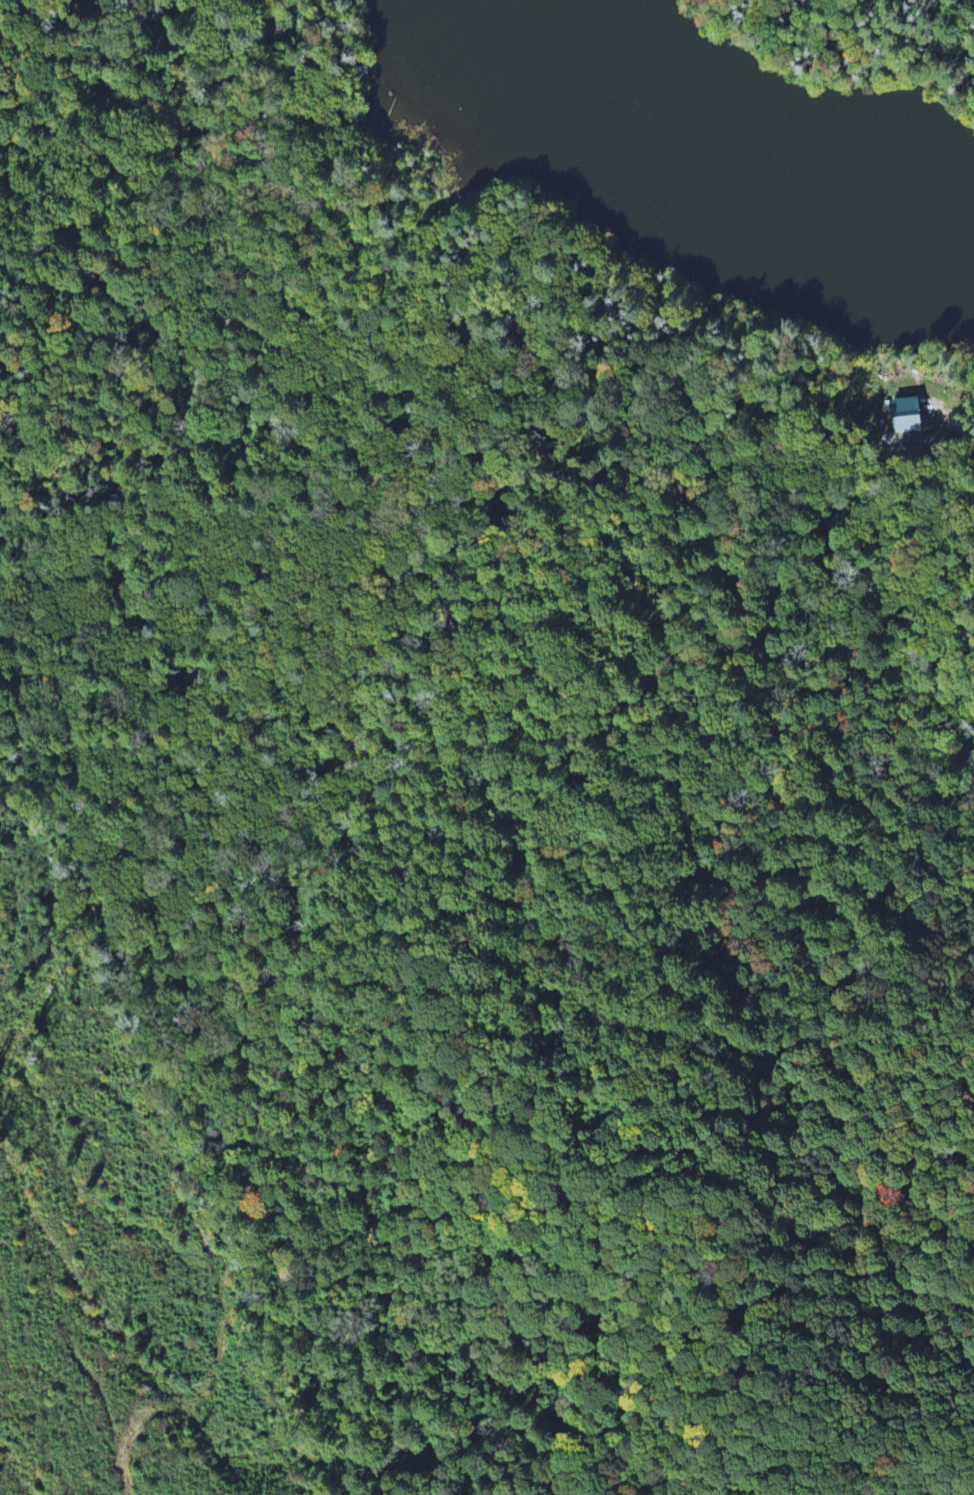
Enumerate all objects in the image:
road: (956, 439)

